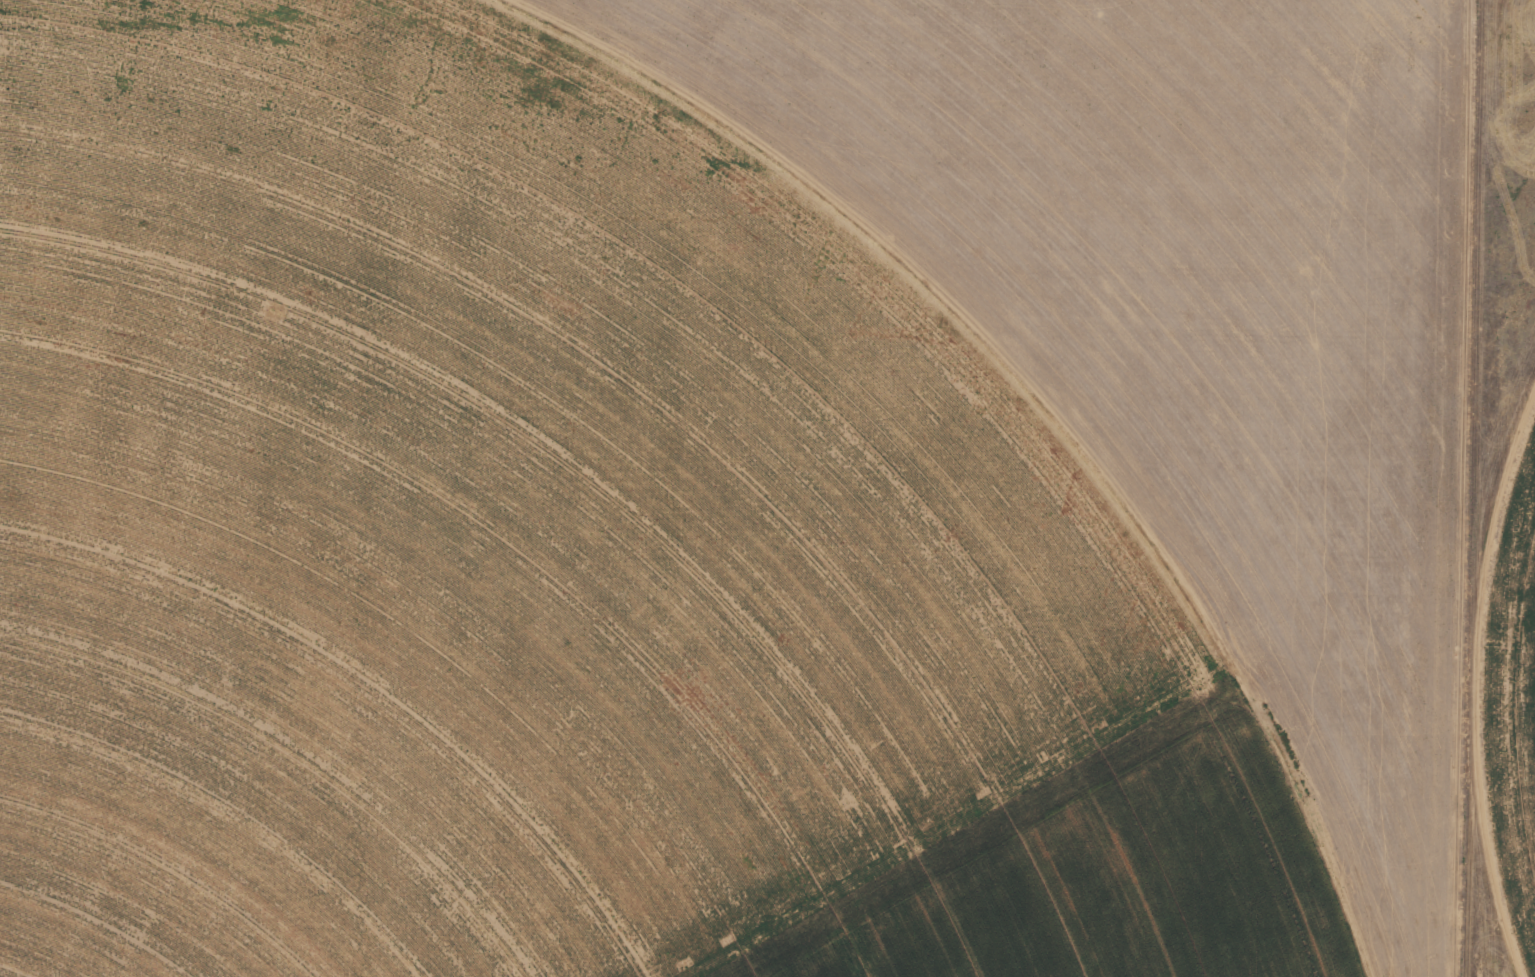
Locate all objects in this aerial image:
crop: (727, 488)
road: (1453, 488)
crop: (1502, 504)

